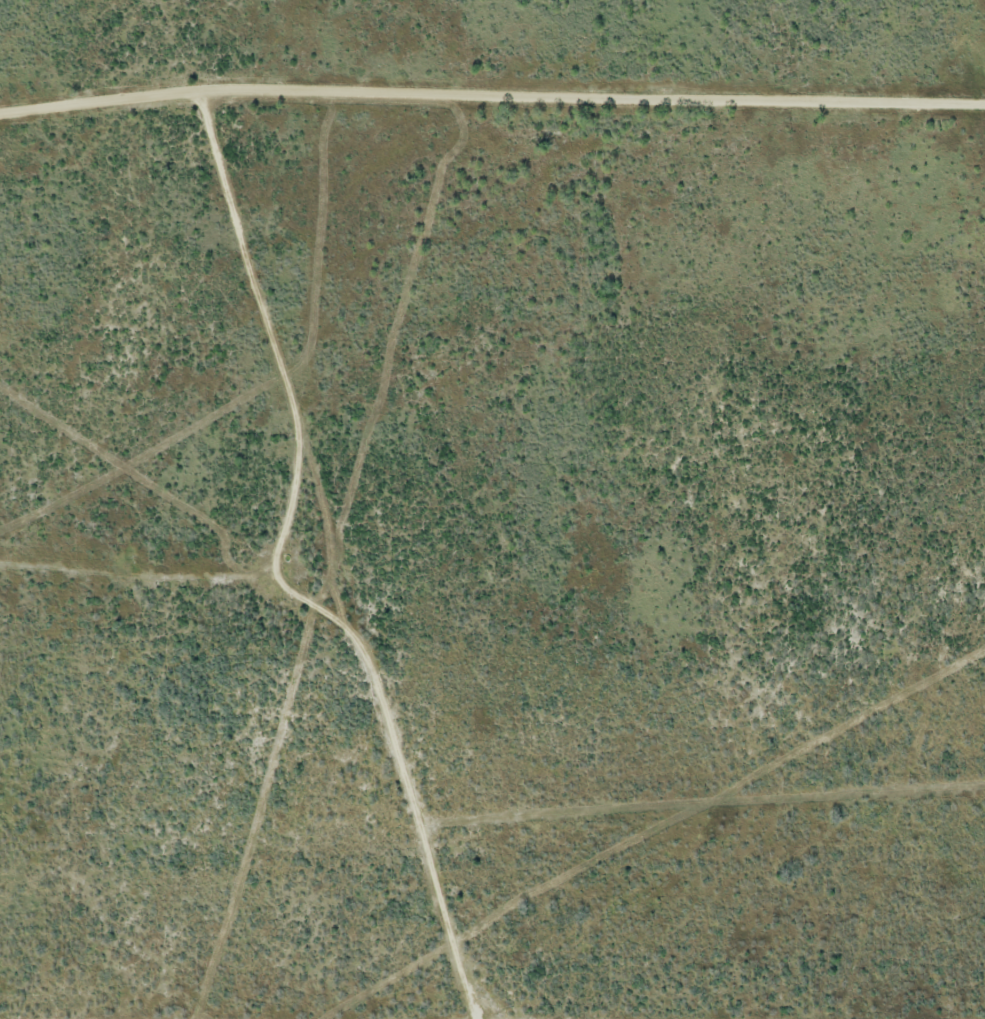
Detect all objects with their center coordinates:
road: (491, 96)
road: (282, 579)

